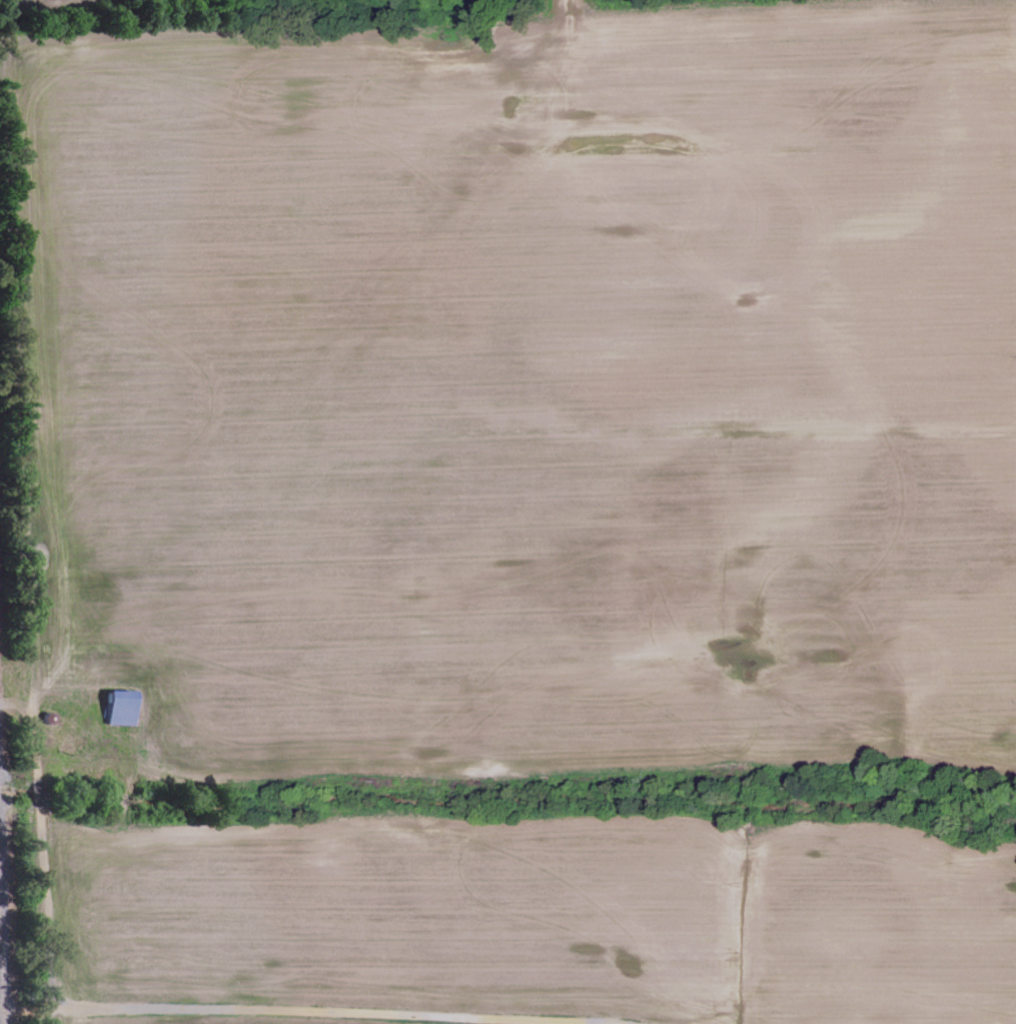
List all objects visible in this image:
building: (126, 709)
road: (390, 830)
road: (68, 890)
railway: (3, 949)
road: (21, 1008)

